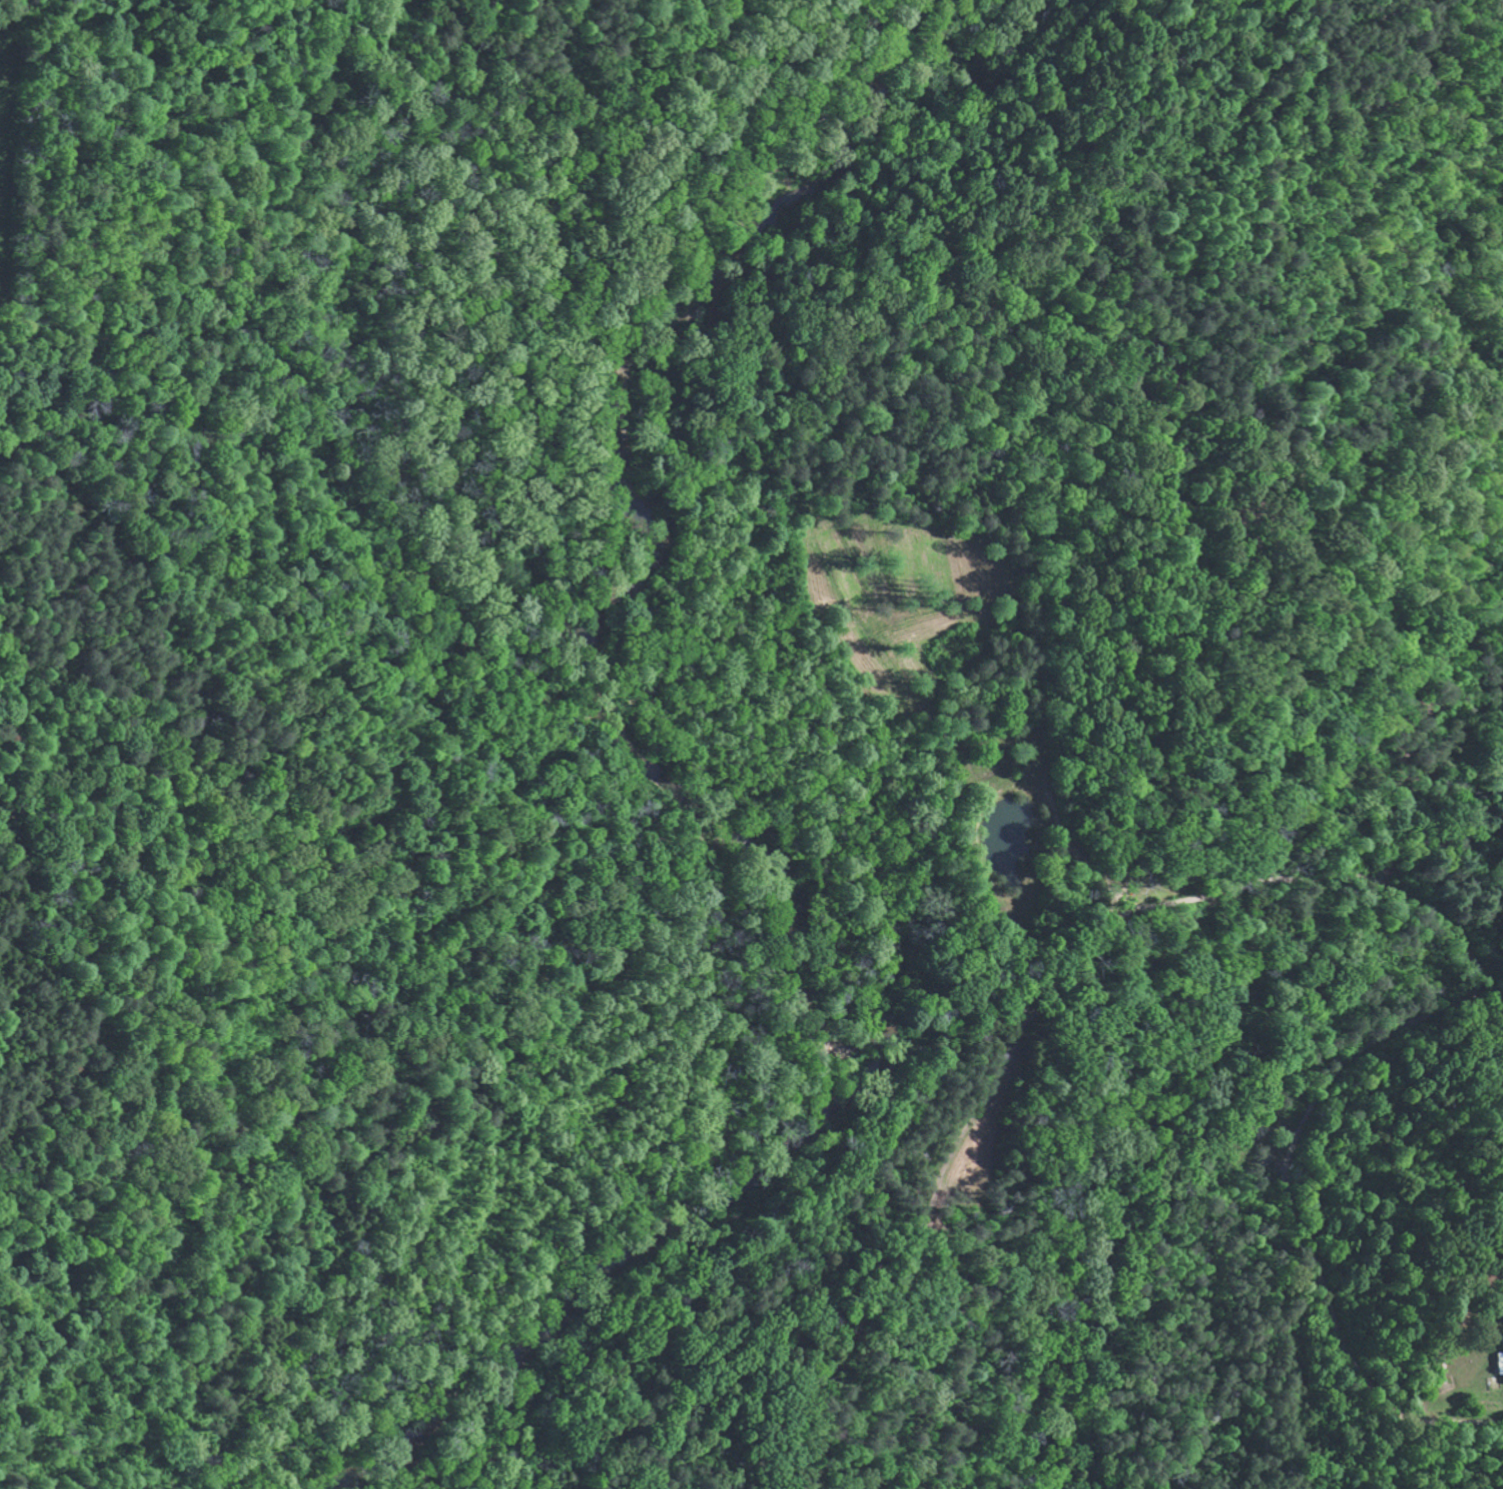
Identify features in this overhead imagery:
building: (1501, 1361)

